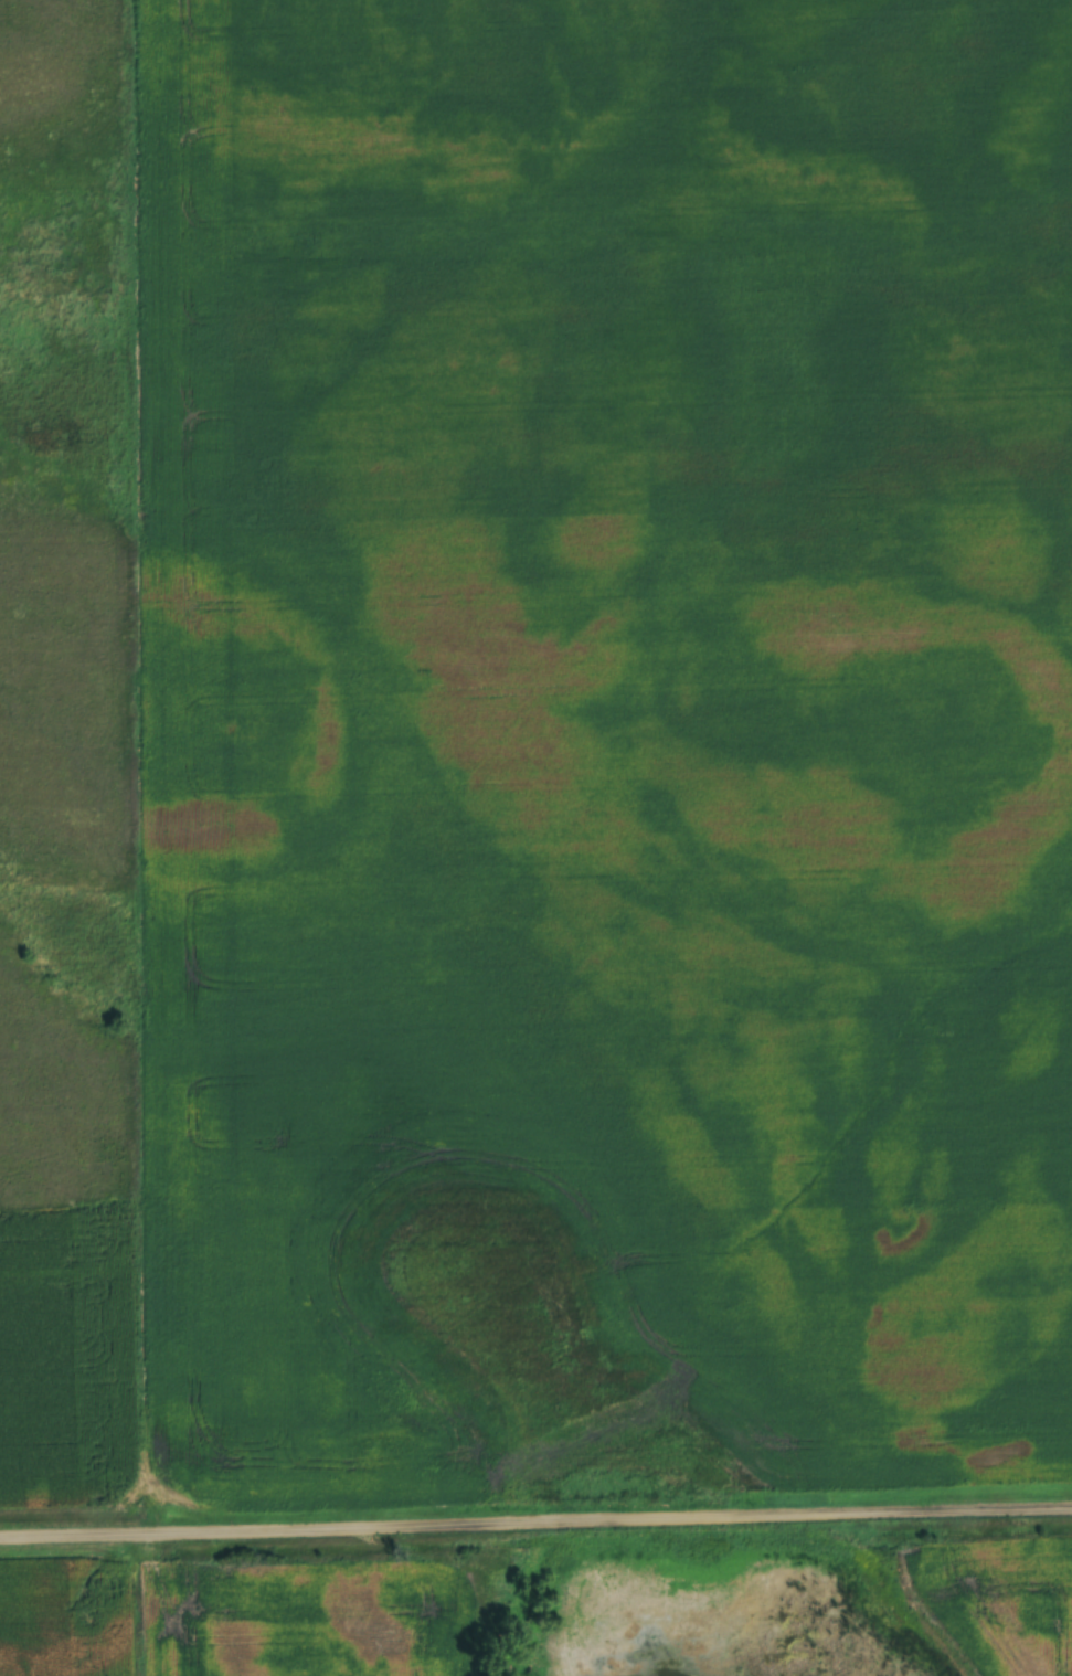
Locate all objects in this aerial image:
road: (535, 1521)

